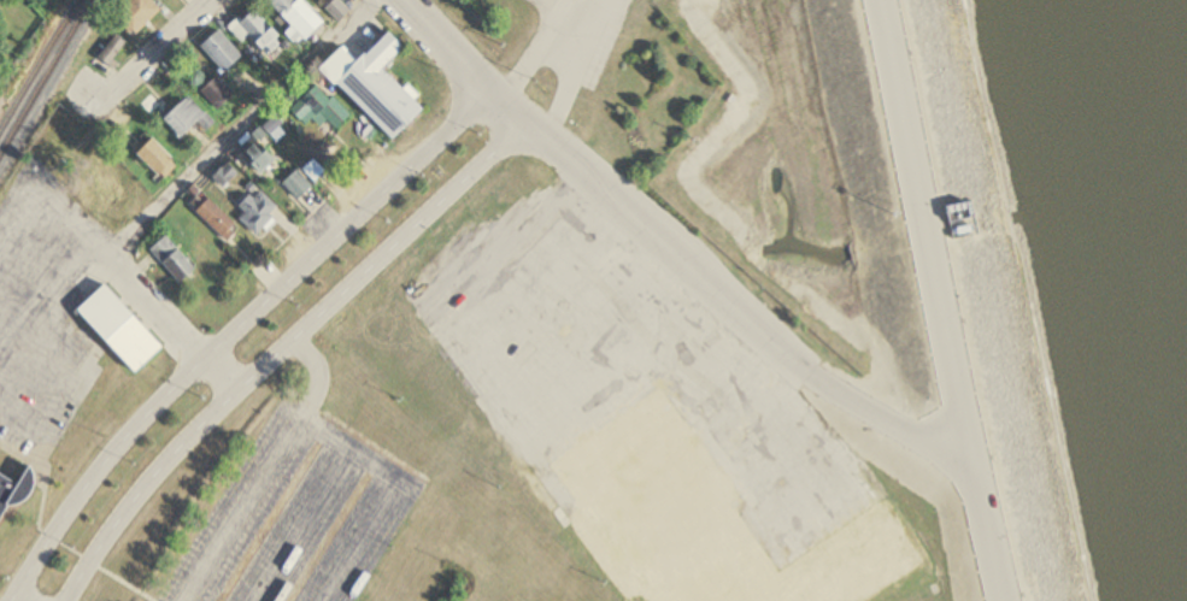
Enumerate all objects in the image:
building: (328, 0)
road: (560, 7)
building: (137, 14)
building: (299, 16)
road: (572, 19)
building: (257, 30)
road: (448, 46)
road: (564, 46)
building: (113, 49)
road: (157, 51)
building: (222, 52)
railway: (39, 65)
railway: (45, 76)
building: (377, 86)
road: (89, 92)
building: (217, 94)
building: (310, 106)
road: (509, 106)
building: (189, 118)
road: (241, 124)
building: (276, 129)
building: (260, 157)
building: (159, 160)
building: (225, 176)
building: (296, 184)
road: (40, 211)
building: (258, 212)
building: (217, 220)
building: (174, 259)
road: (46, 284)
road: (149, 295)
road: (1042, 299)
road: (951, 301)
road: (739, 312)
building: (122, 329)
road: (235, 331)
road: (282, 349)
road: (224, 372)
road: (266, 471)
building: (16, 491)
building: (665, 511)
road: (14, 600)

